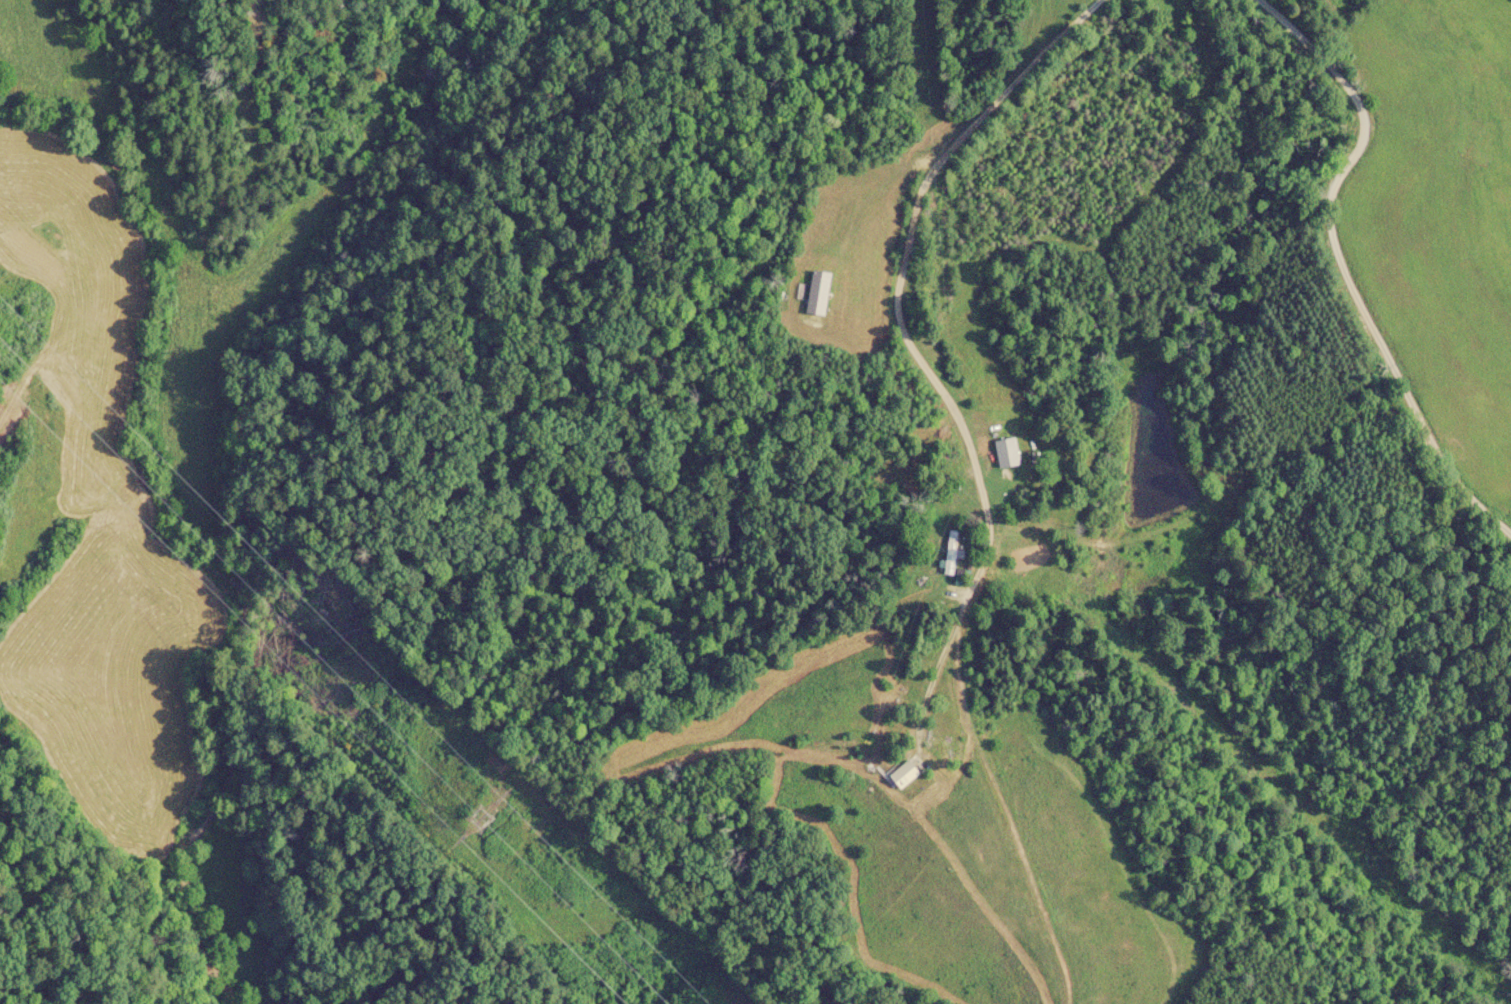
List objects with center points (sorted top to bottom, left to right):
road: (1340, 267)
road: (882, 300)
building: (951, 553)
building: (905, 776)
power tower: (484, 818)

